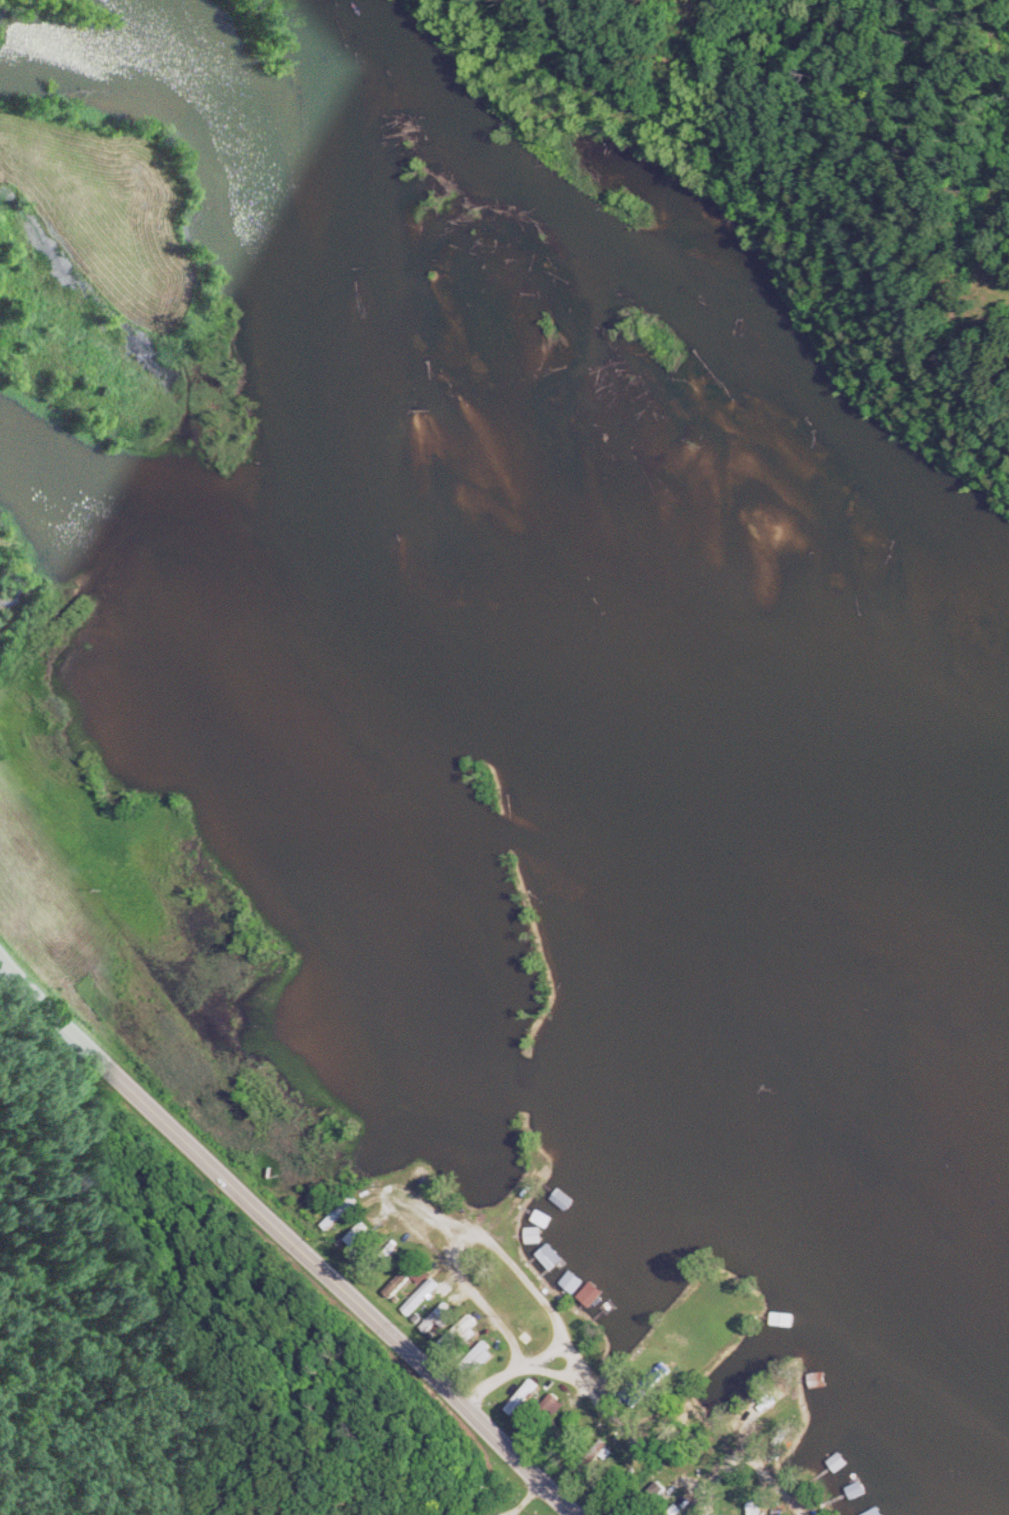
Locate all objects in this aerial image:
river: (598, 536)
building: (562, 1200)
building: (341, 1212)
building: (360, 1234)
road: (288, 1237)
building: (534, 1237)
building: (571, 1280)
building: (590, 1295)
building: (422, 1297)
building: (436, 1321)
building: (458, 1334)
building: (813, 1349)
building: (484, 1350)
building: (525, 1397)
building: (778, 1418)
building: (576, 1441)
building: (837, 1465)
building: (754, 1504)

